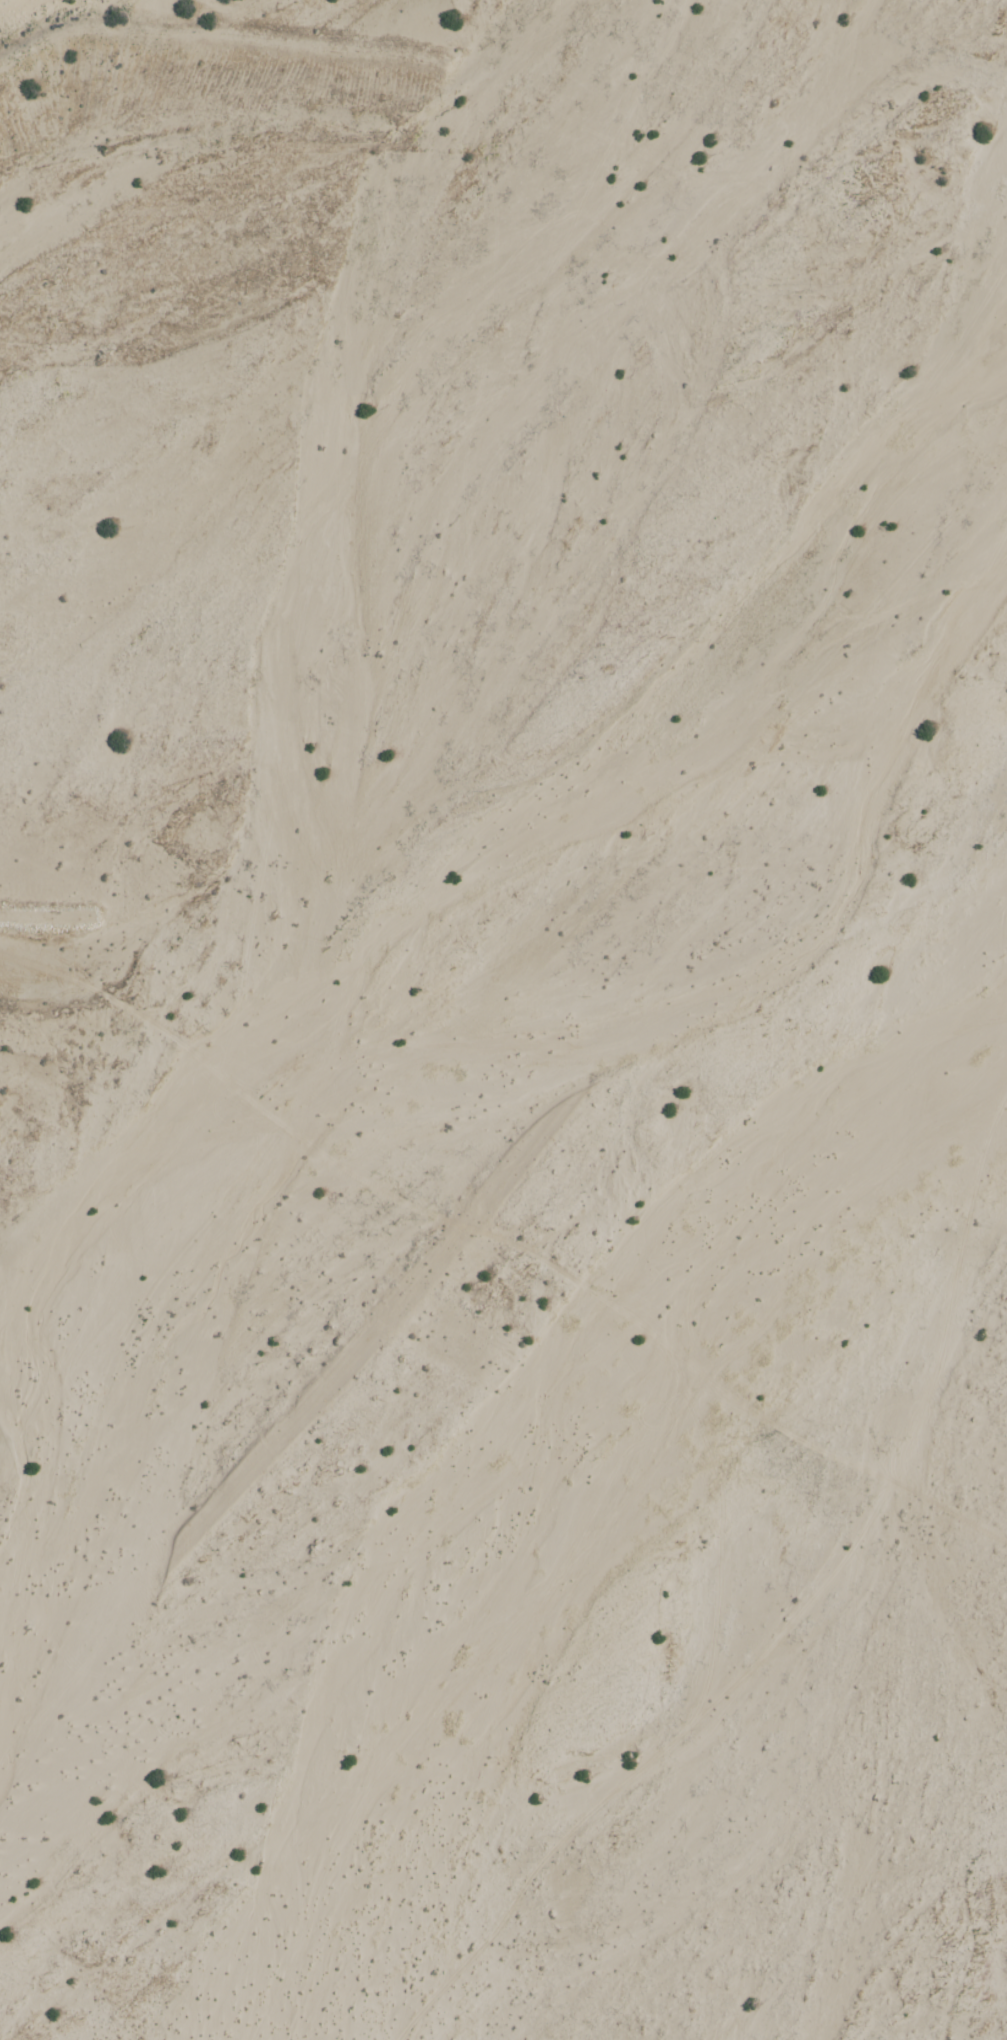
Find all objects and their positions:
river: (820, 1806)

